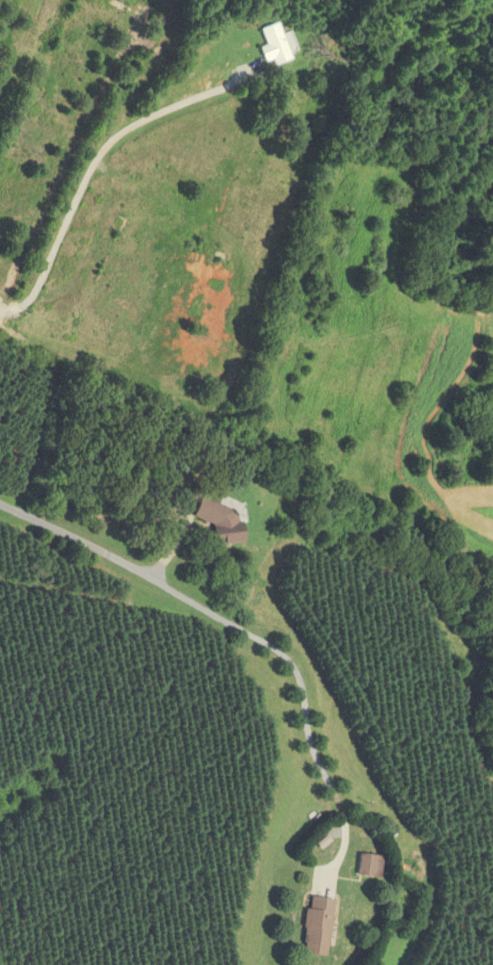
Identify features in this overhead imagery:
building: (129, 8)
building: (274, 44)
road: (93, 161)
building: (163, 208)
building: (131, 276)
building: (181, 408)
building: (217, 520)
road: (129, 567)
road: (311, 752)
building: (368, 865)
building: (314, 927)

